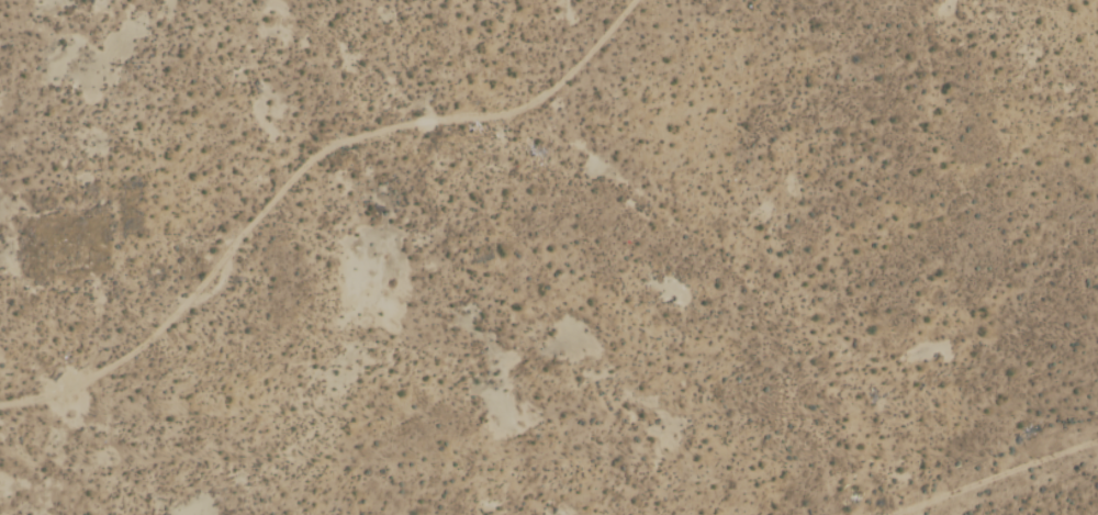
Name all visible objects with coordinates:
road: (299, 170)

